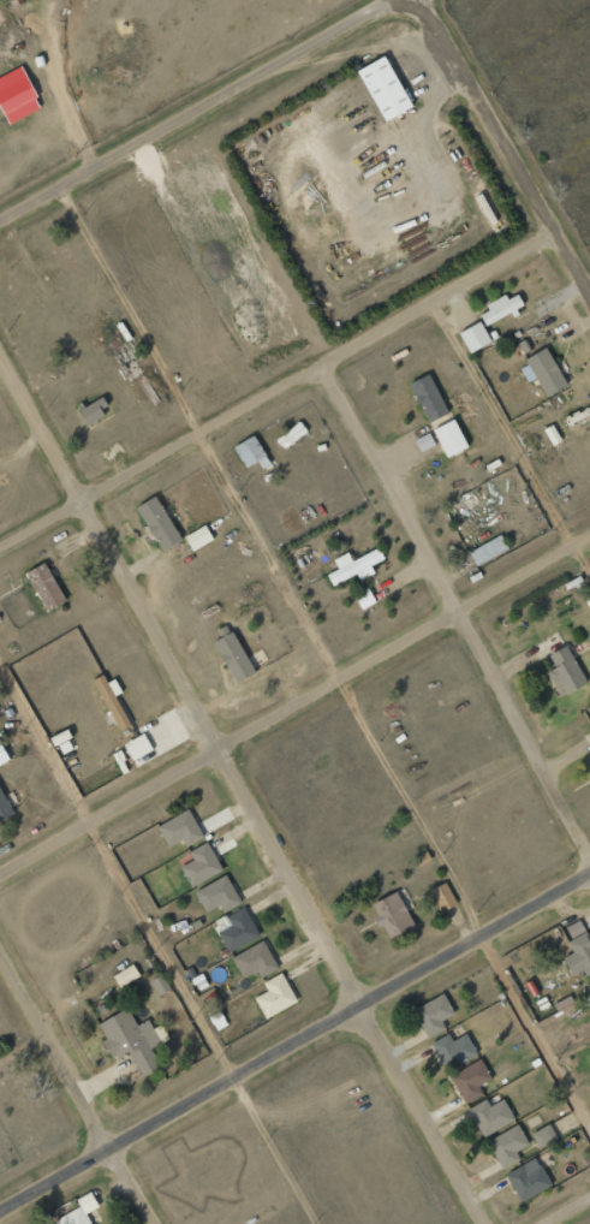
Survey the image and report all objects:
building: (385, 88)
building: (17, 95)
road: (204, 111)
road: (502, 147)
building: (501, 309)
building: (475, 337)
building: (542, 372)
road: (276, 391)
building: (93, 411)
building: (437, 415)
building: (291, 435)
road: (509, 444)
building: (250, 452)
building: (464, 505)
building: (159, 523)
building: (198, 537)
building: (488, 551)
building: (354, 566)
building: (44, 586)
building: (364, 599)
road: (454, 613)
road: (327, 652)
building: (233, 656)
building: (564, 671)
building: (111, 699)
road: (293, 699)
building: (137, 745)
building: (2, 755)
road: (243, 792)
building: (4, 807)
building: (180, 828)
building: (421, 858)
building: (201, 864)
building: (217, 895)
building: (443, 896)
building: (392, 915)
building: (236, 928)
road: (160, 944)
building: (578, 953)
building: (255, 959)
building: (125, 975)
building: (160, 985)
building: (275, 996)
building: (588, 998)
building: (433, 1015)
road: (293, 1039)
building: (131, 1041)
building: (452, 1050)
building: (470, 1080)
road: (75, 1088)
building: (490, 1116)
building: (544, 1136)
building: (507, 1146)
building: (528, 1180)
road: (566, 1210)
building: (79, 1211)

